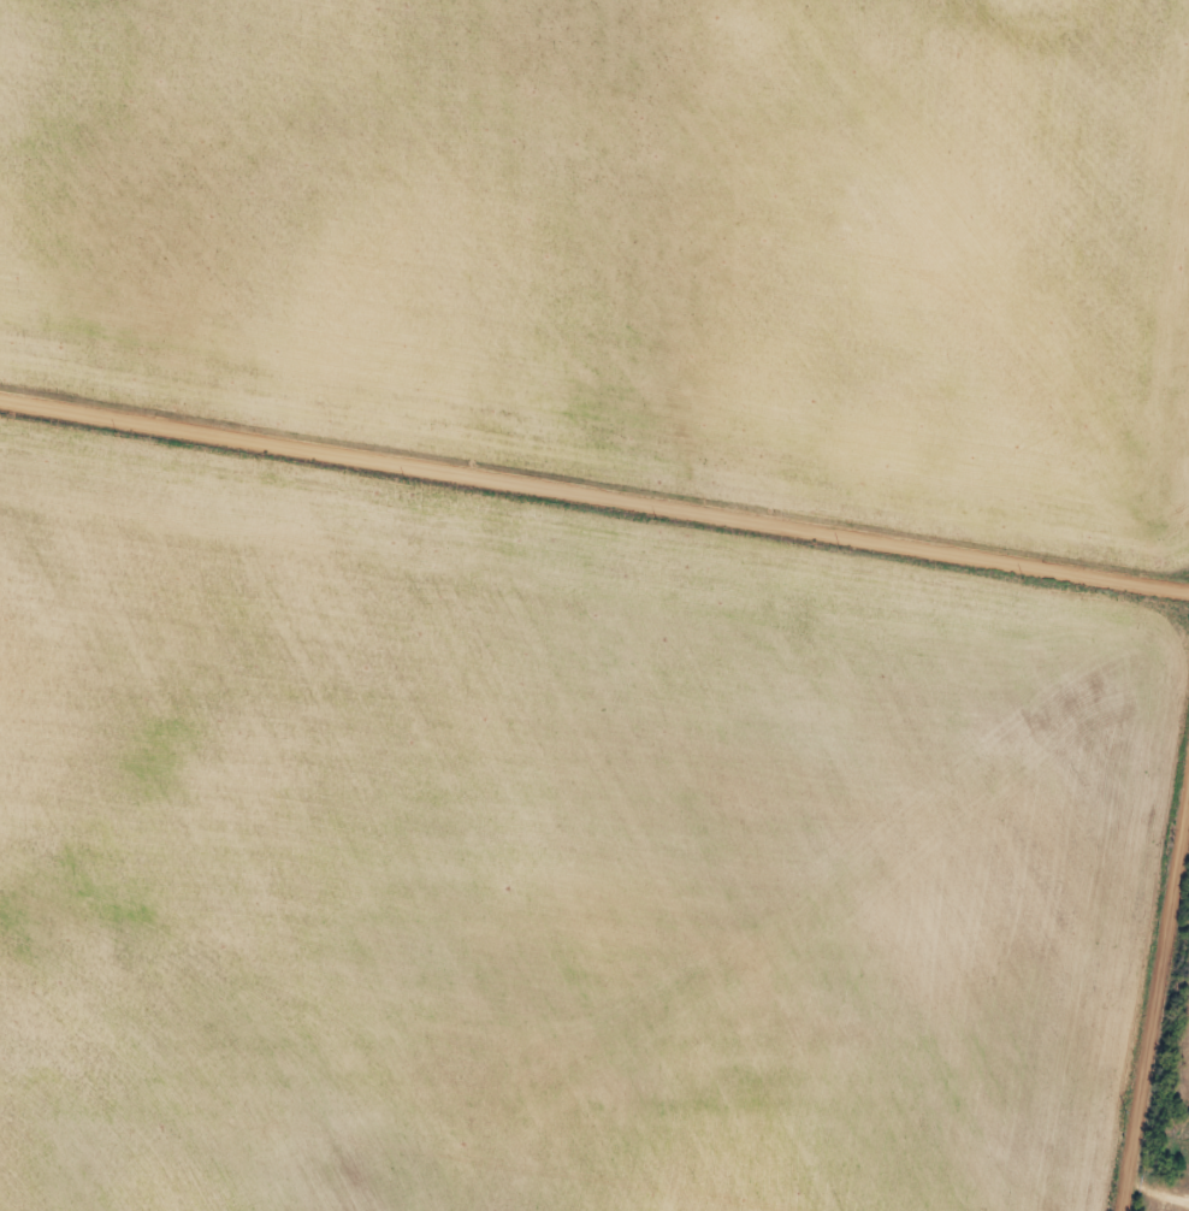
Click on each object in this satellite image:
crop: (633, 246)
road: (594, 498)
road: (1149, 1003)
road: (1136, 1206)

